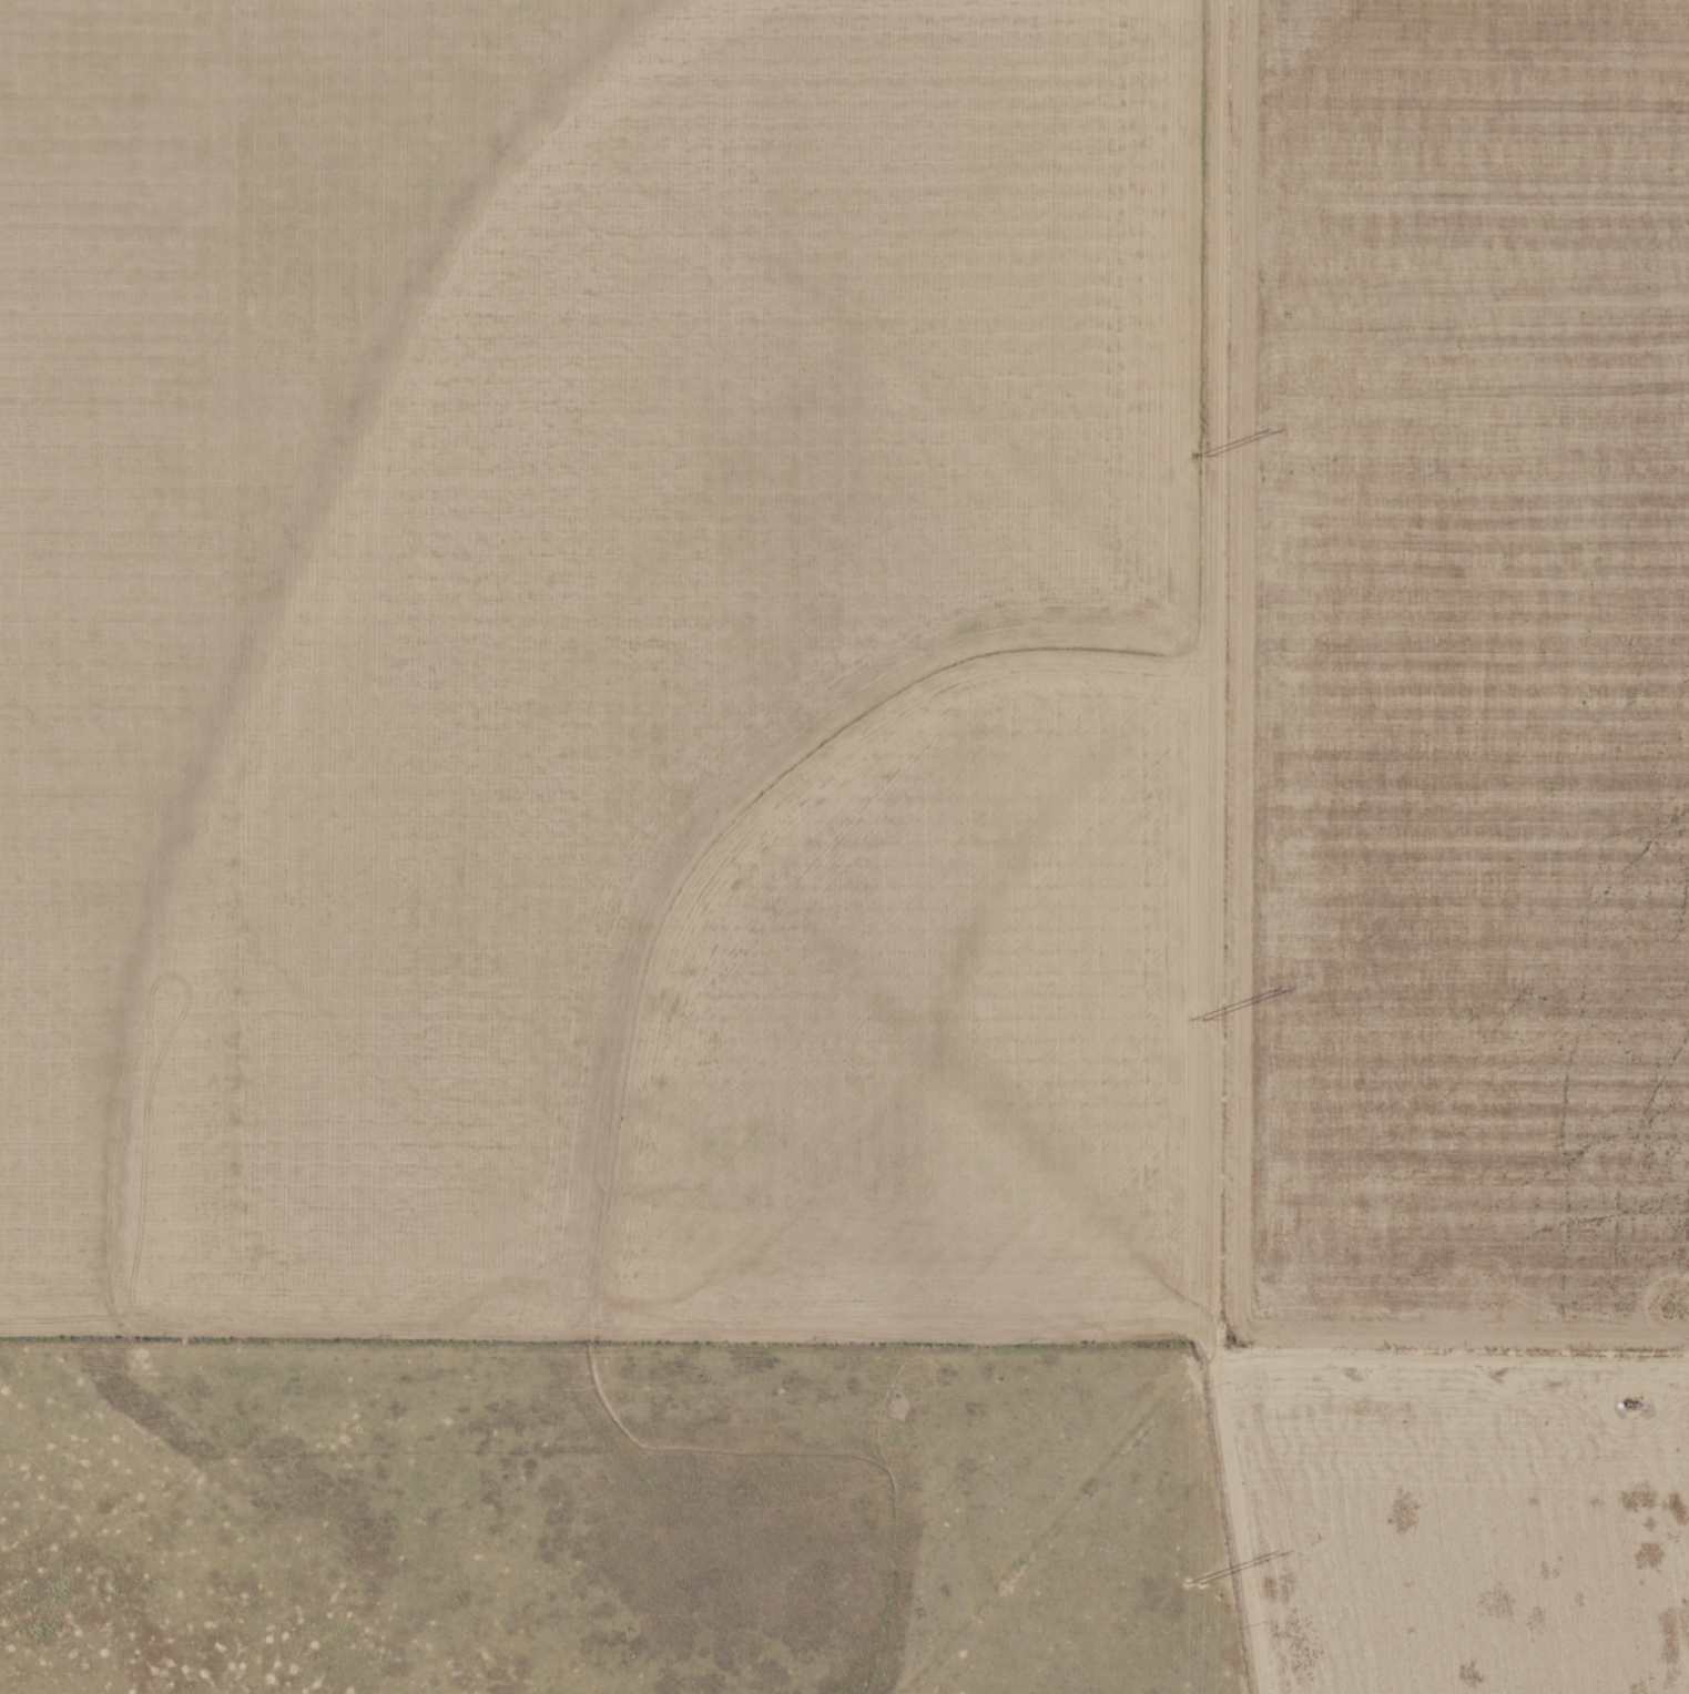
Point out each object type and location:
power tower: (1199, 456)
power tower: (1195, 1019)
power tower: (1192, 1585)

